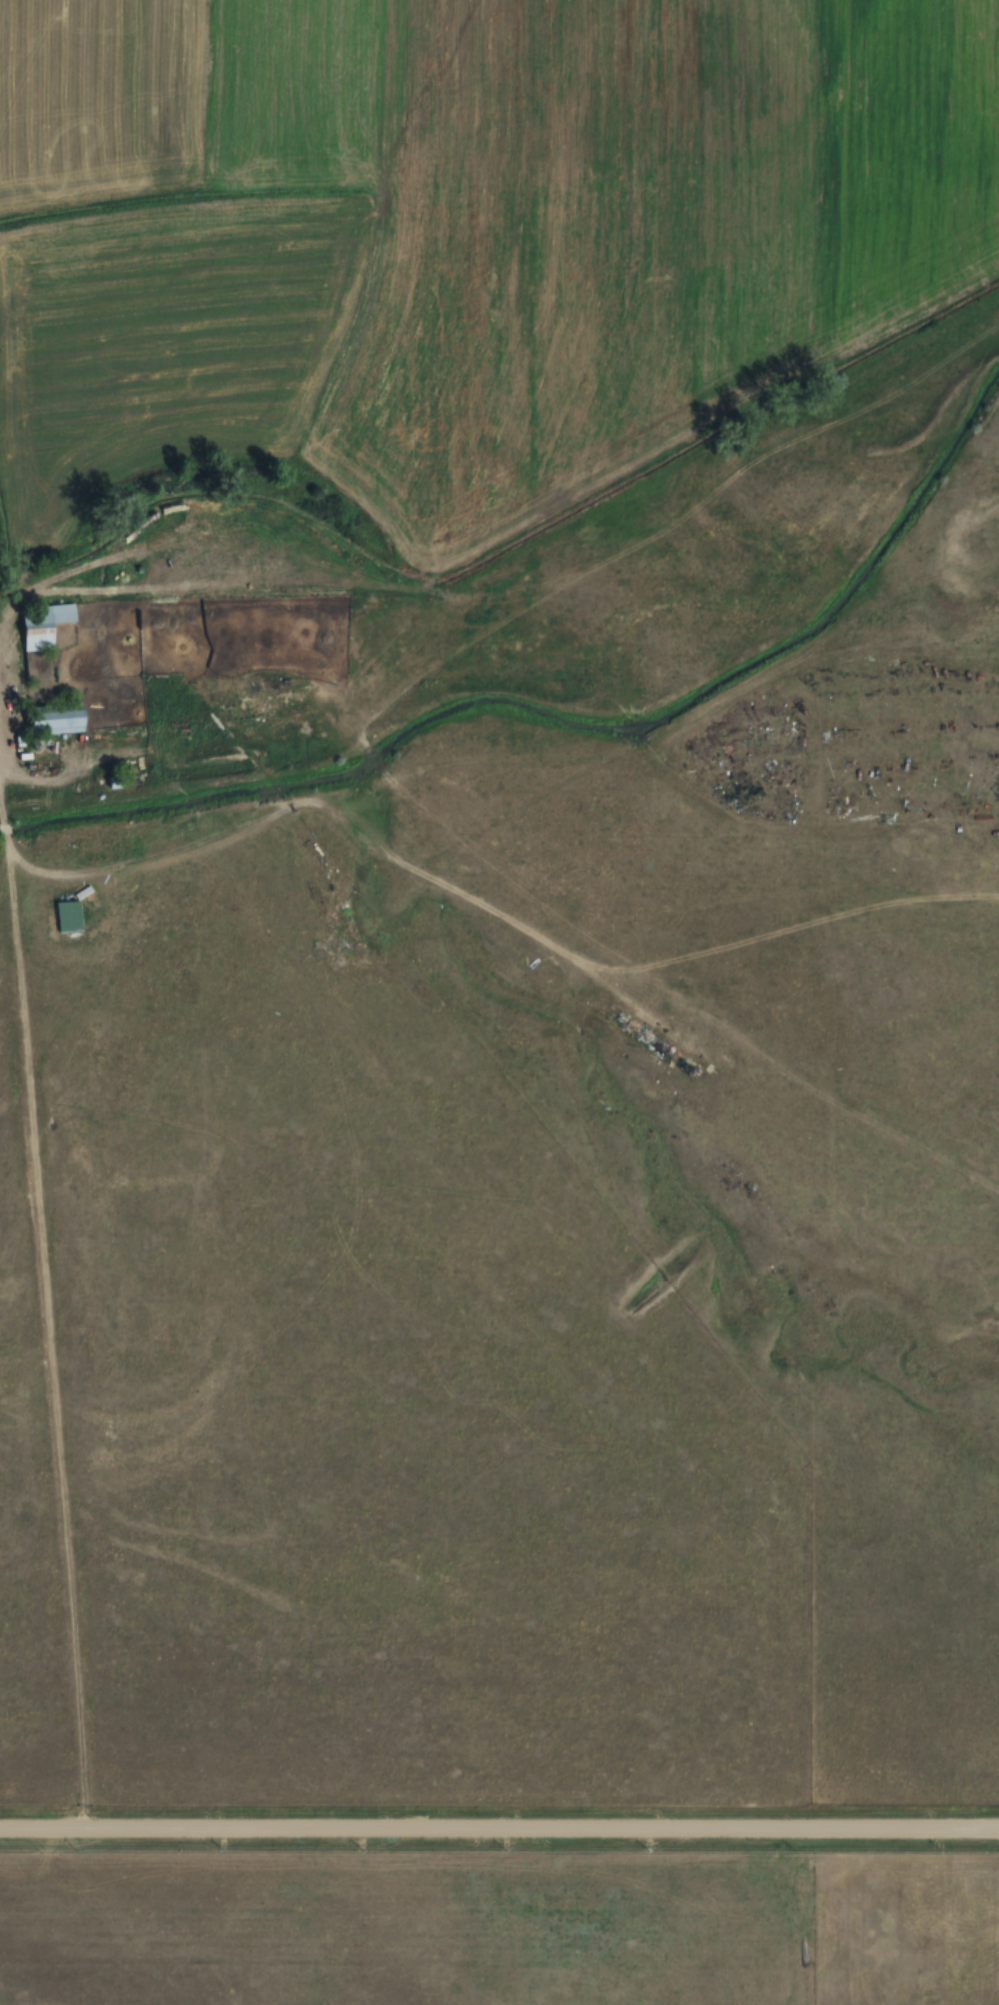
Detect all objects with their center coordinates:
building: (46, 625)
building: (62, 720)
road: (4, 830)
building: (71, 917)
road: (48, 1337)
road: (499, 1830)

